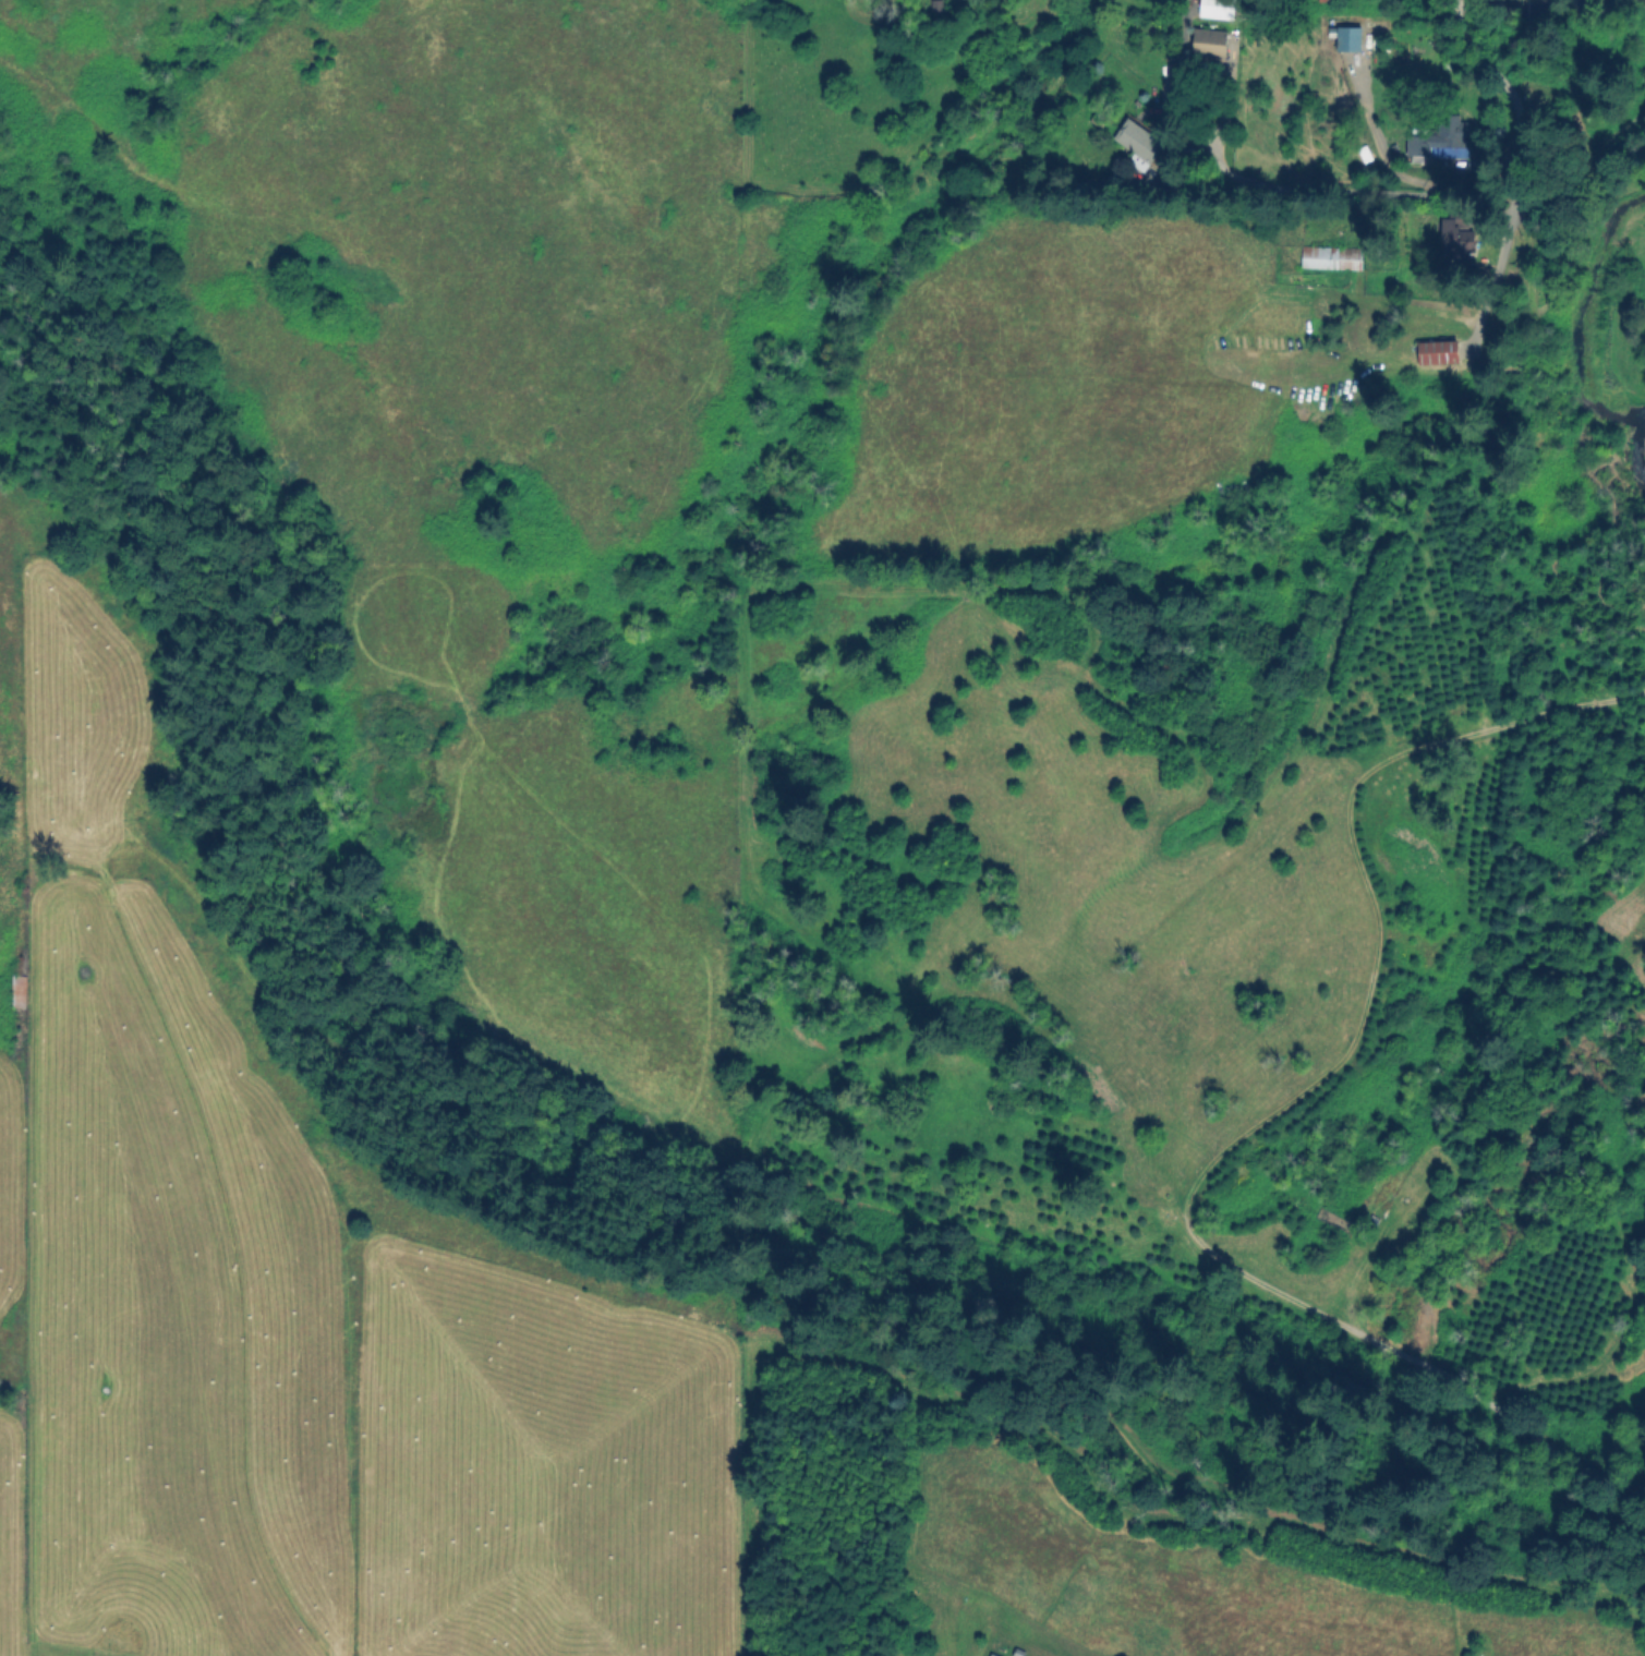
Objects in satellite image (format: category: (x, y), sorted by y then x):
building: (1215, 9)
road: (1452, 14)
building: (1344, 36)
building: (1208, 41)
building: (1449, 137)
building: (1136, 143)
building: (1413, 147)
road: (1507, 173)
road: (1330, 188)
building: (1453, 240)
building: (1330, 256)
building: (1436, 351)
building: (17, 988)
building: (991, 1654)

